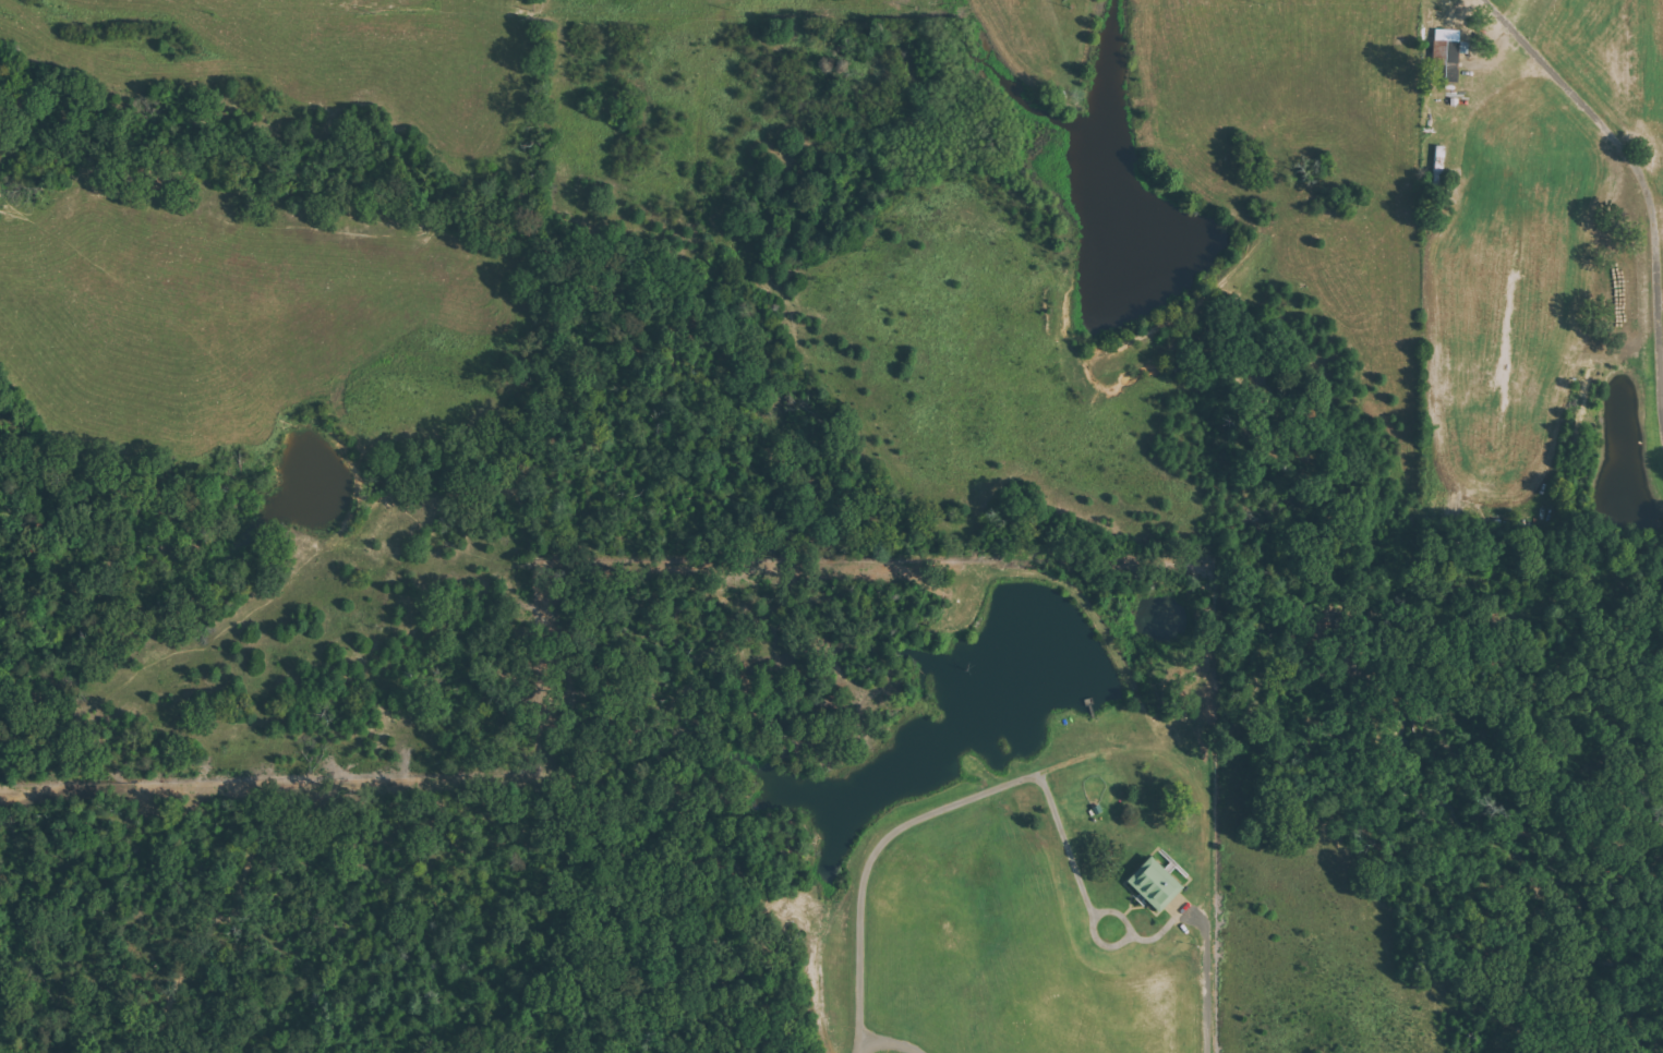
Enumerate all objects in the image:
road: (1639, 159)
building: (1158, 883)

